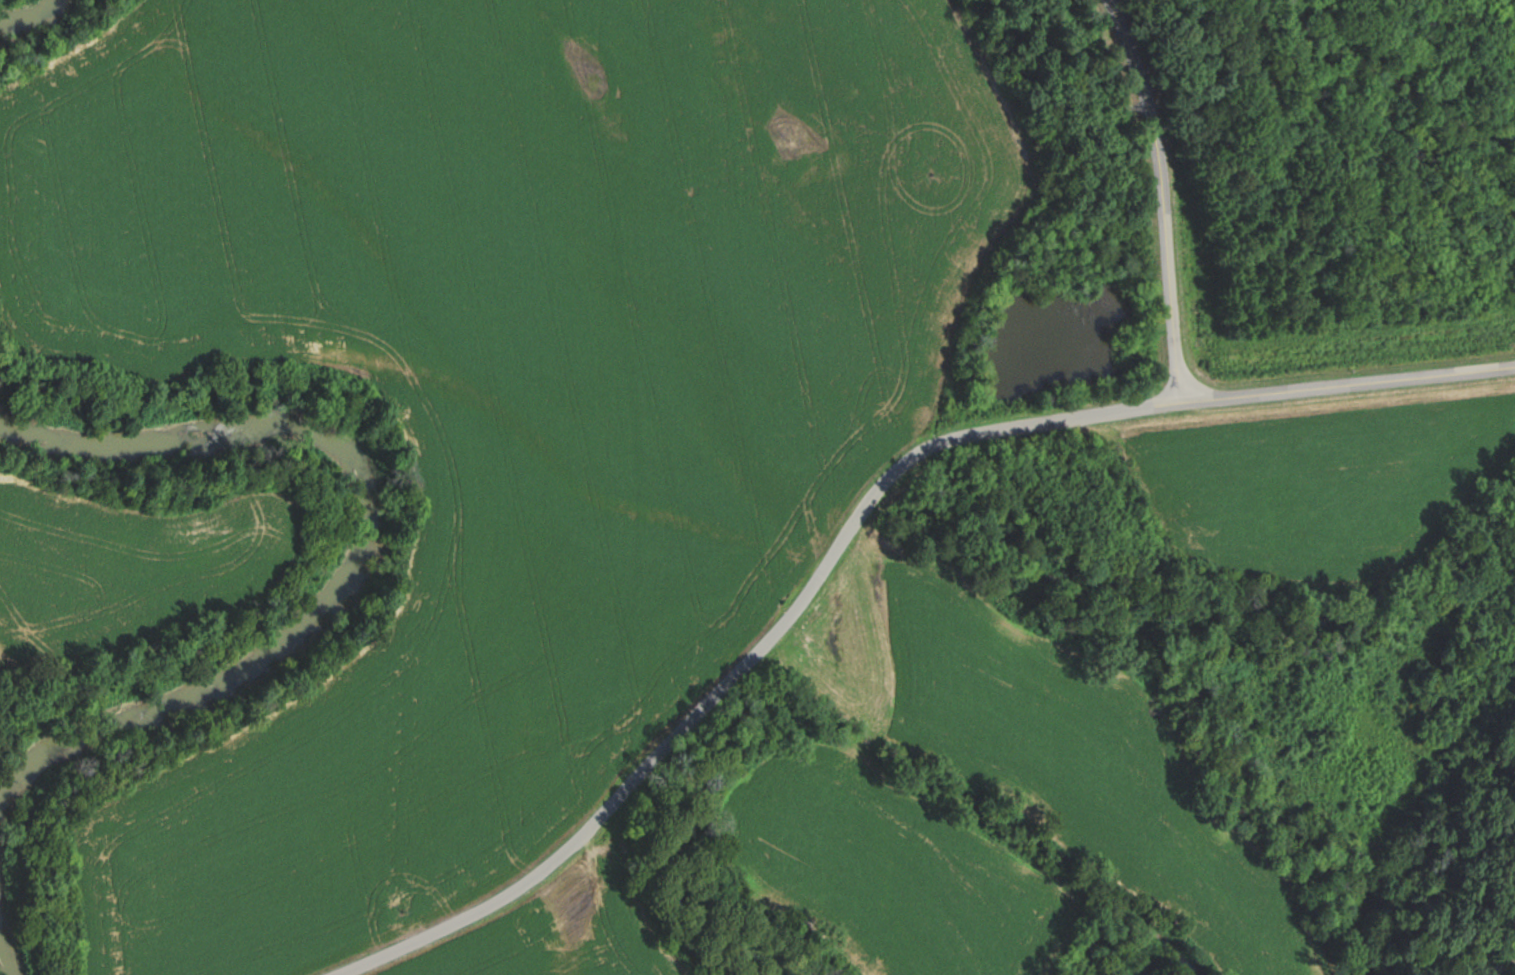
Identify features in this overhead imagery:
road: (1162, 195)
road: (1347, 383)
road: (750, 652)

